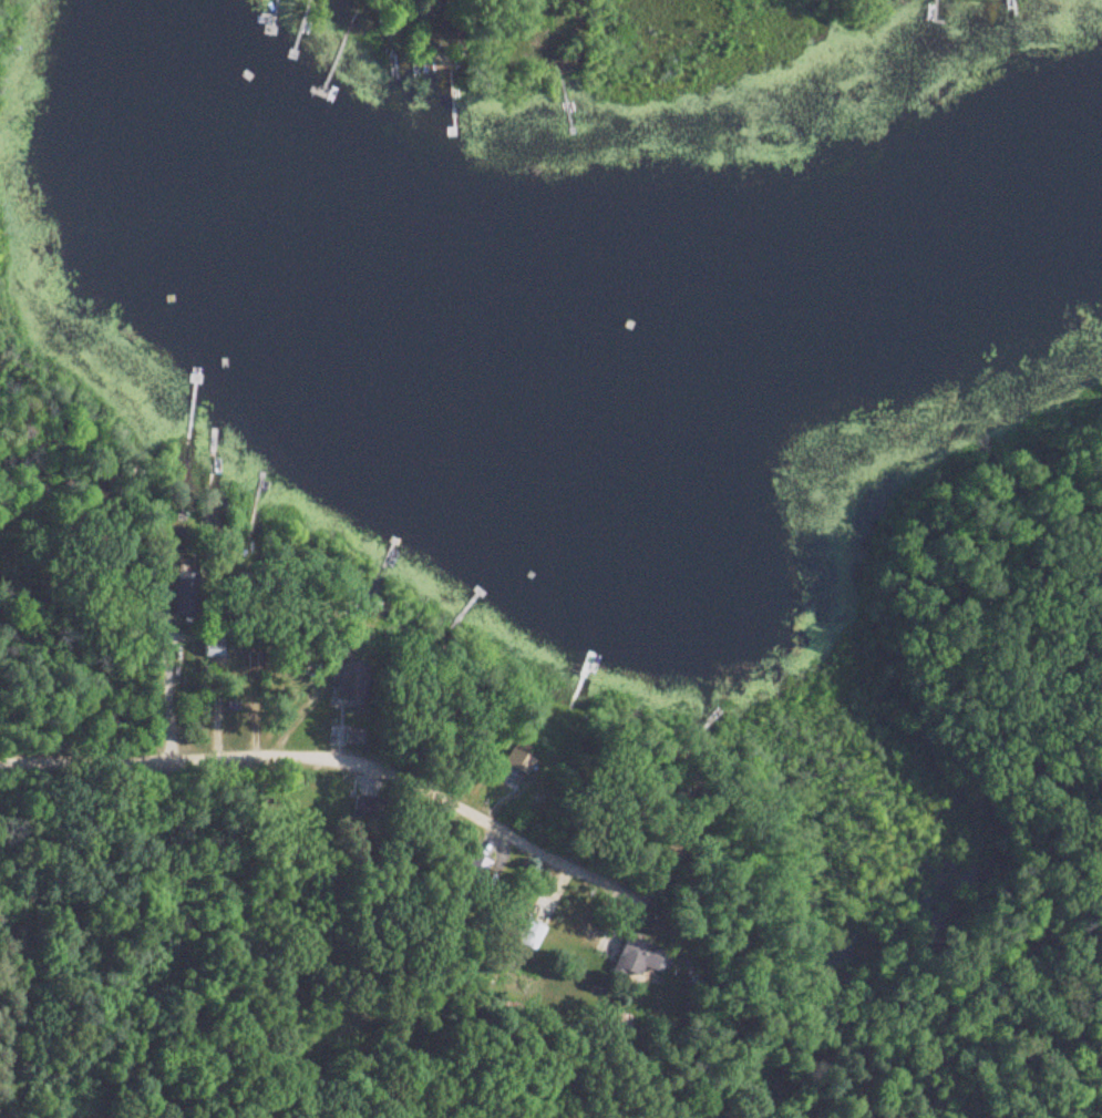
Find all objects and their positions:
building: (208, 647)
building: (250, 659)
building: (352, 737)
road: (362, 738)
building: (637, 957)

